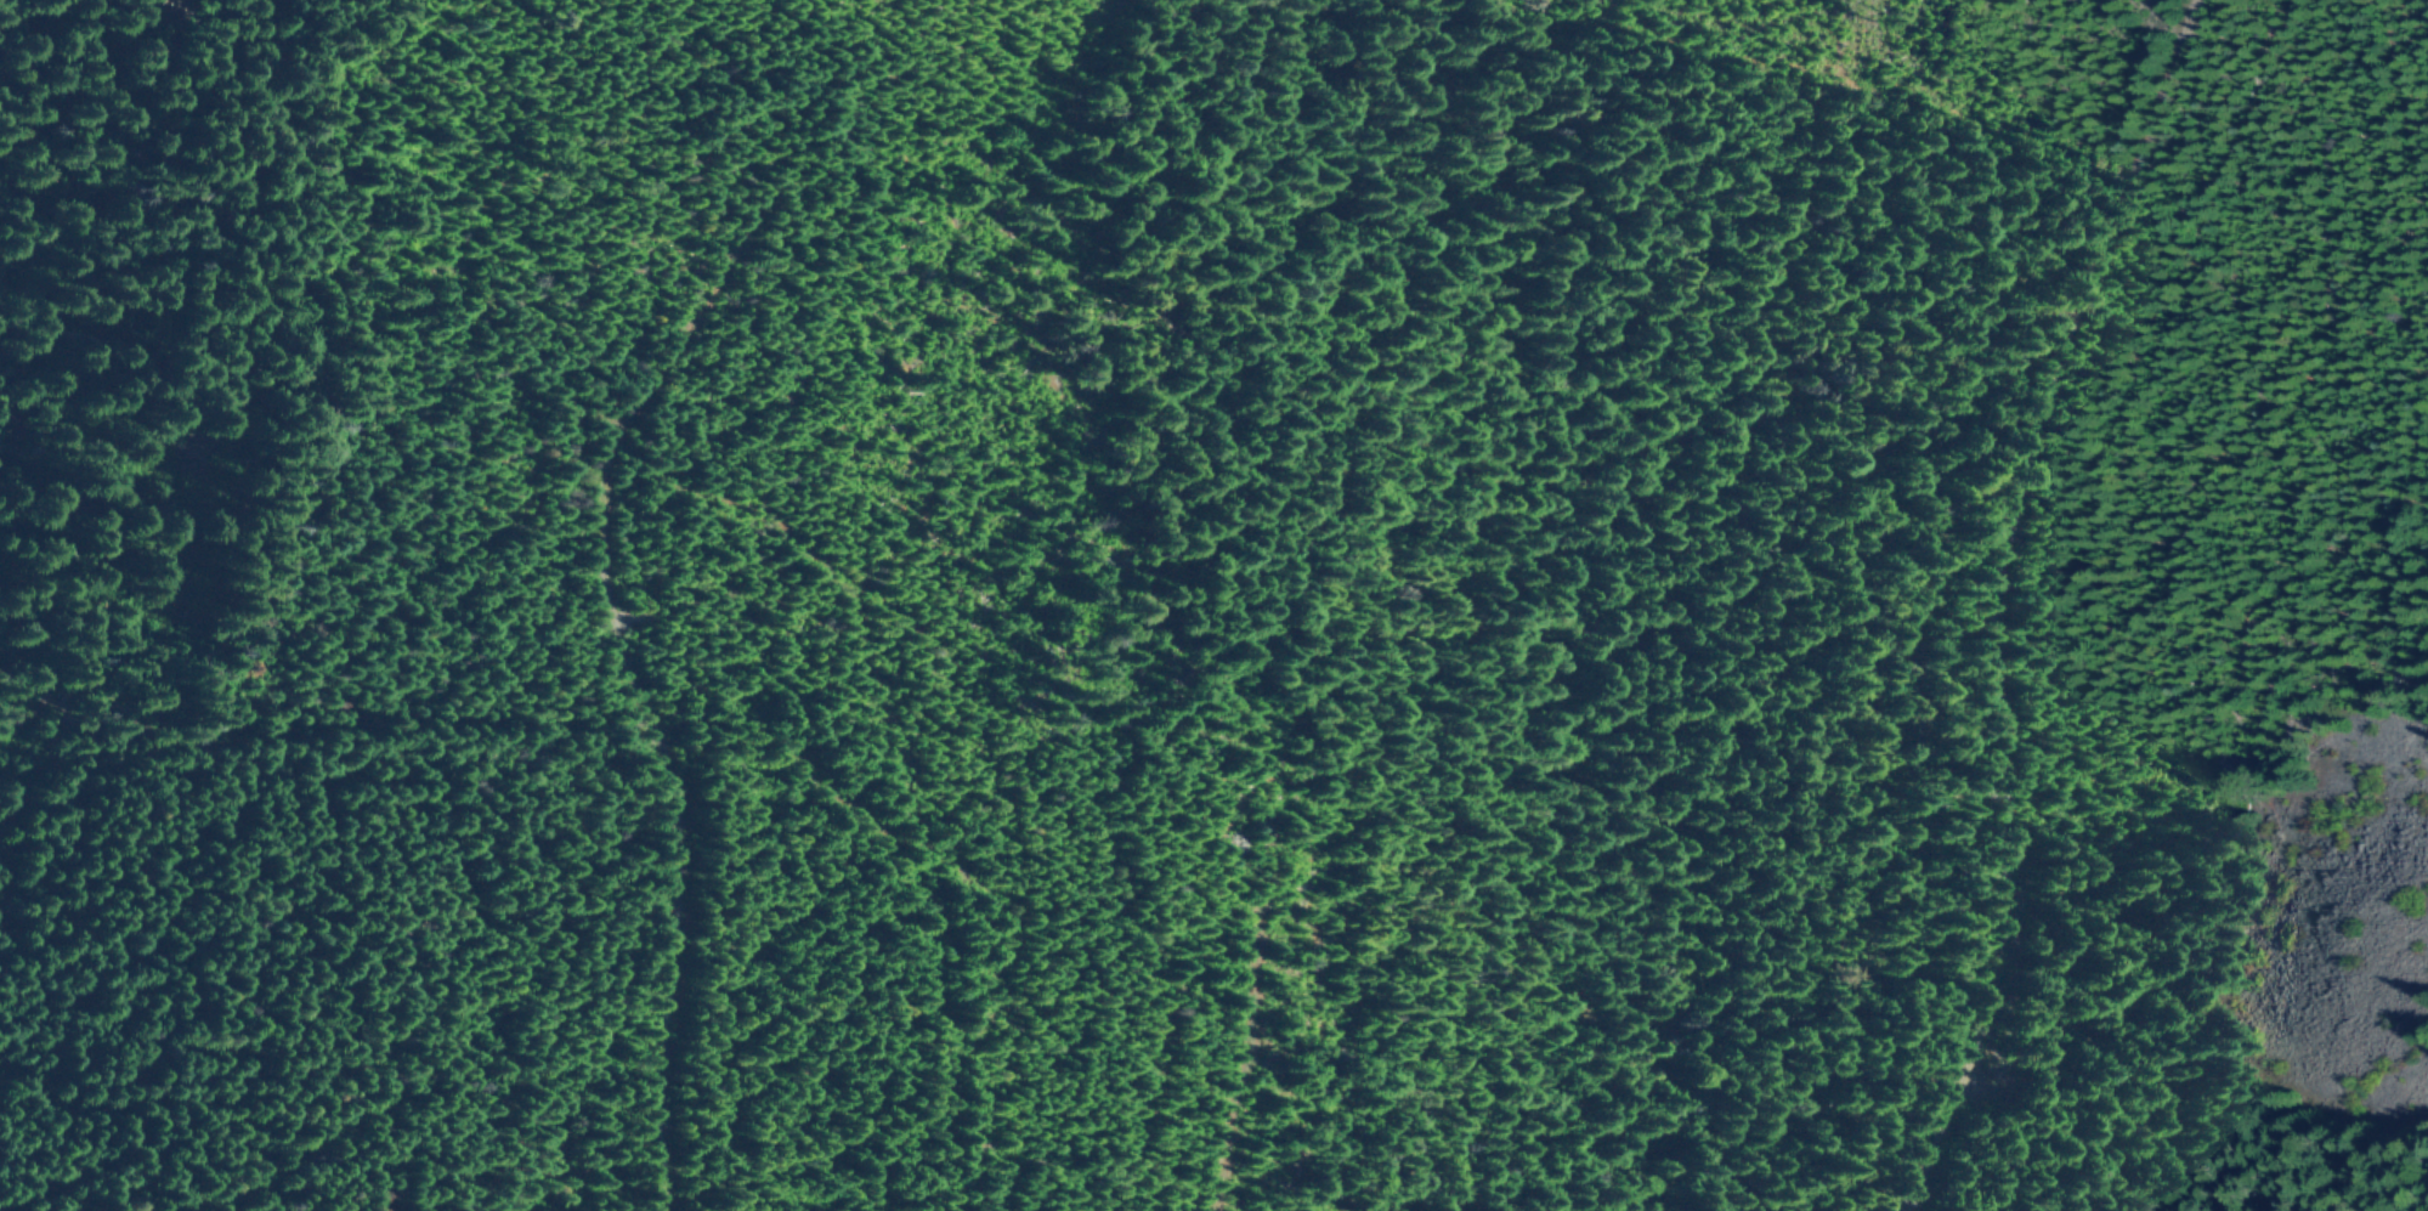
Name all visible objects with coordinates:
road: (1993, 596)
road: (664, 871)

